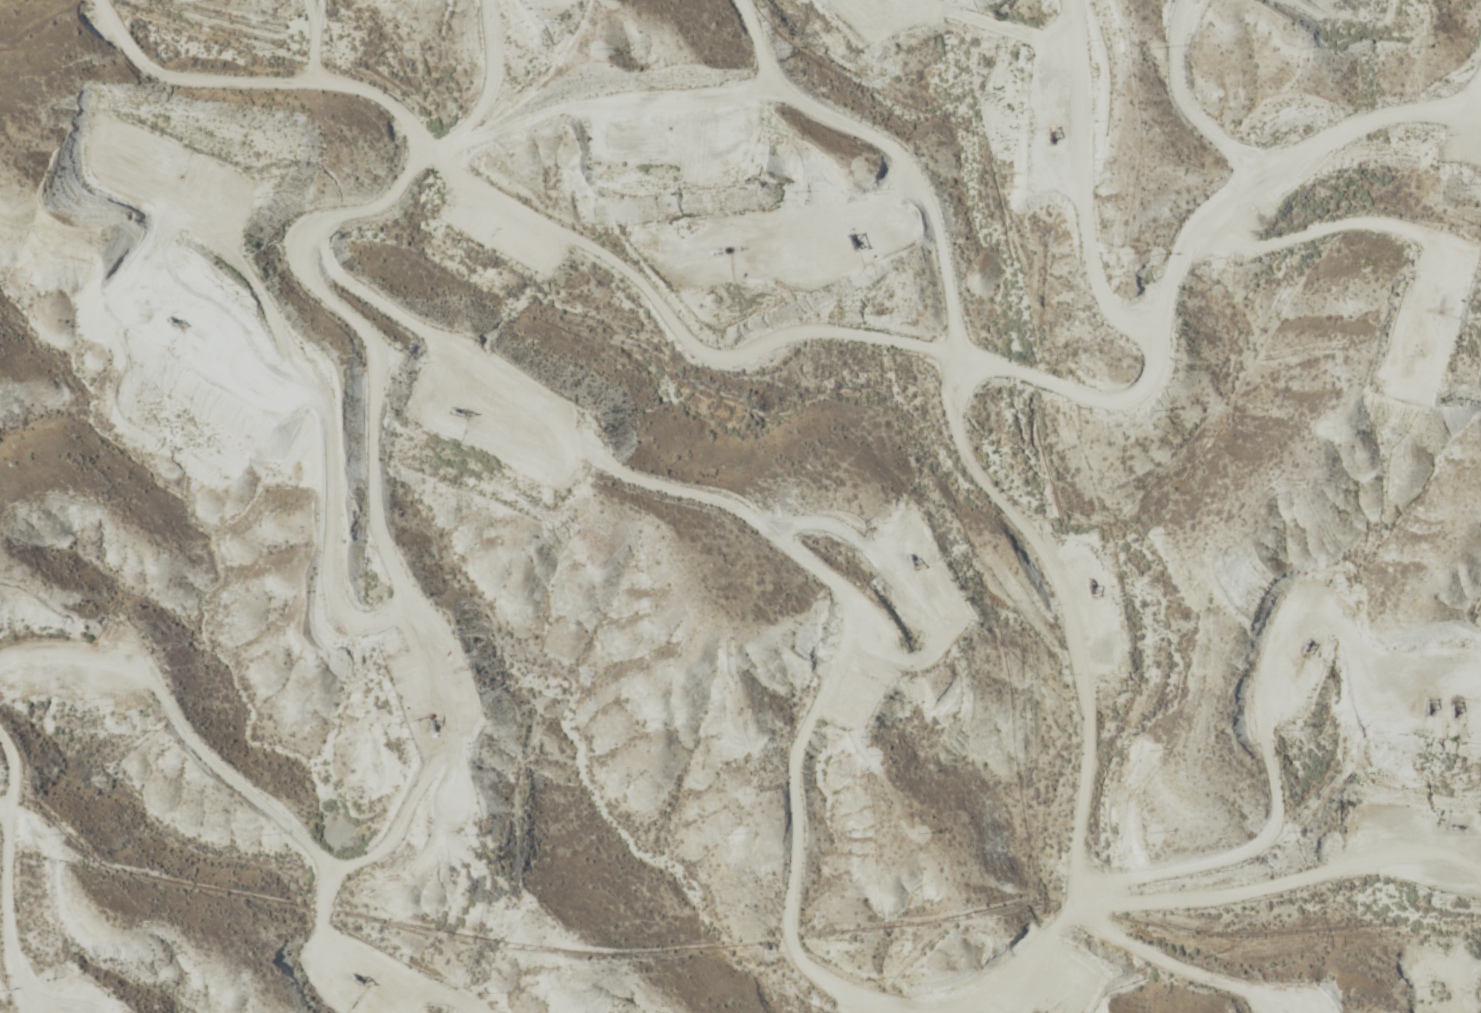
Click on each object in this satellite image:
road: (794, 324)
road: (1073, 673)
road: (420, 995)

